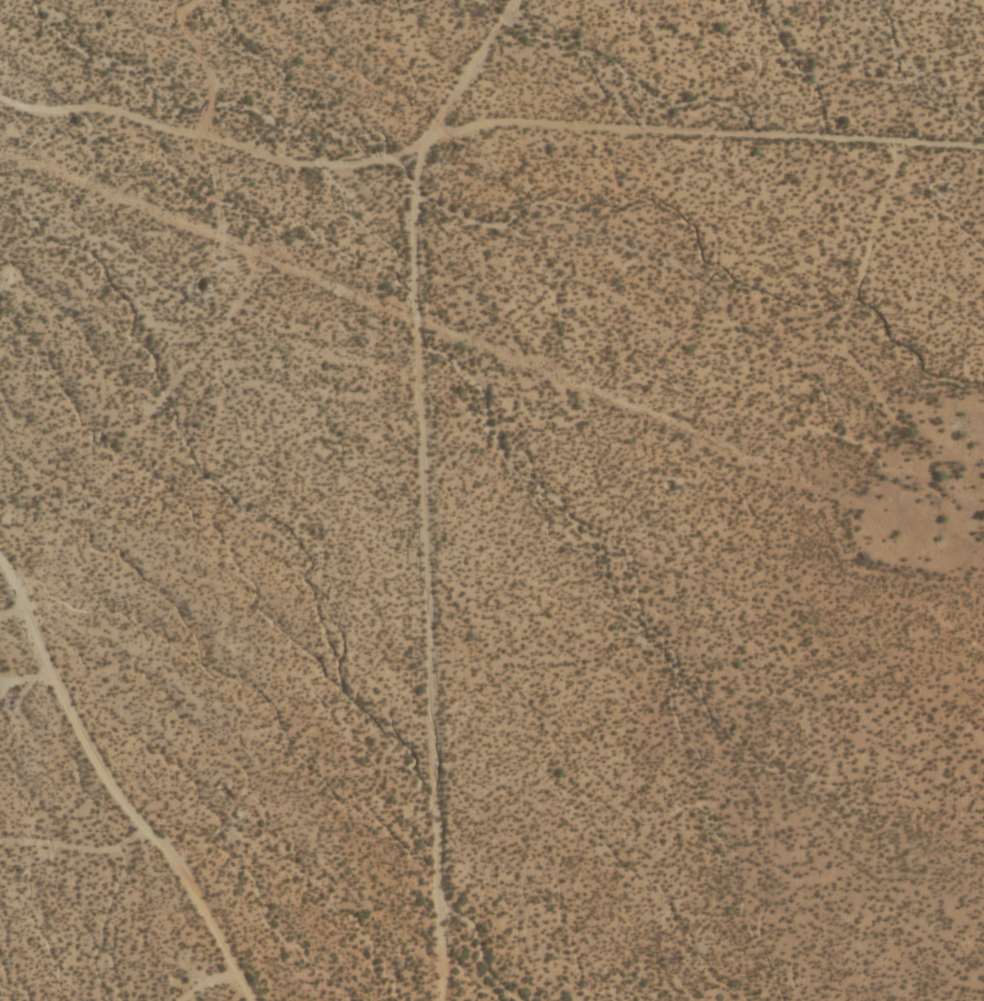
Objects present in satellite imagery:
road: (490, 131)
road: (682, 469)
road: (434, 495)
road: (10, 617)
road: (106, 793)

